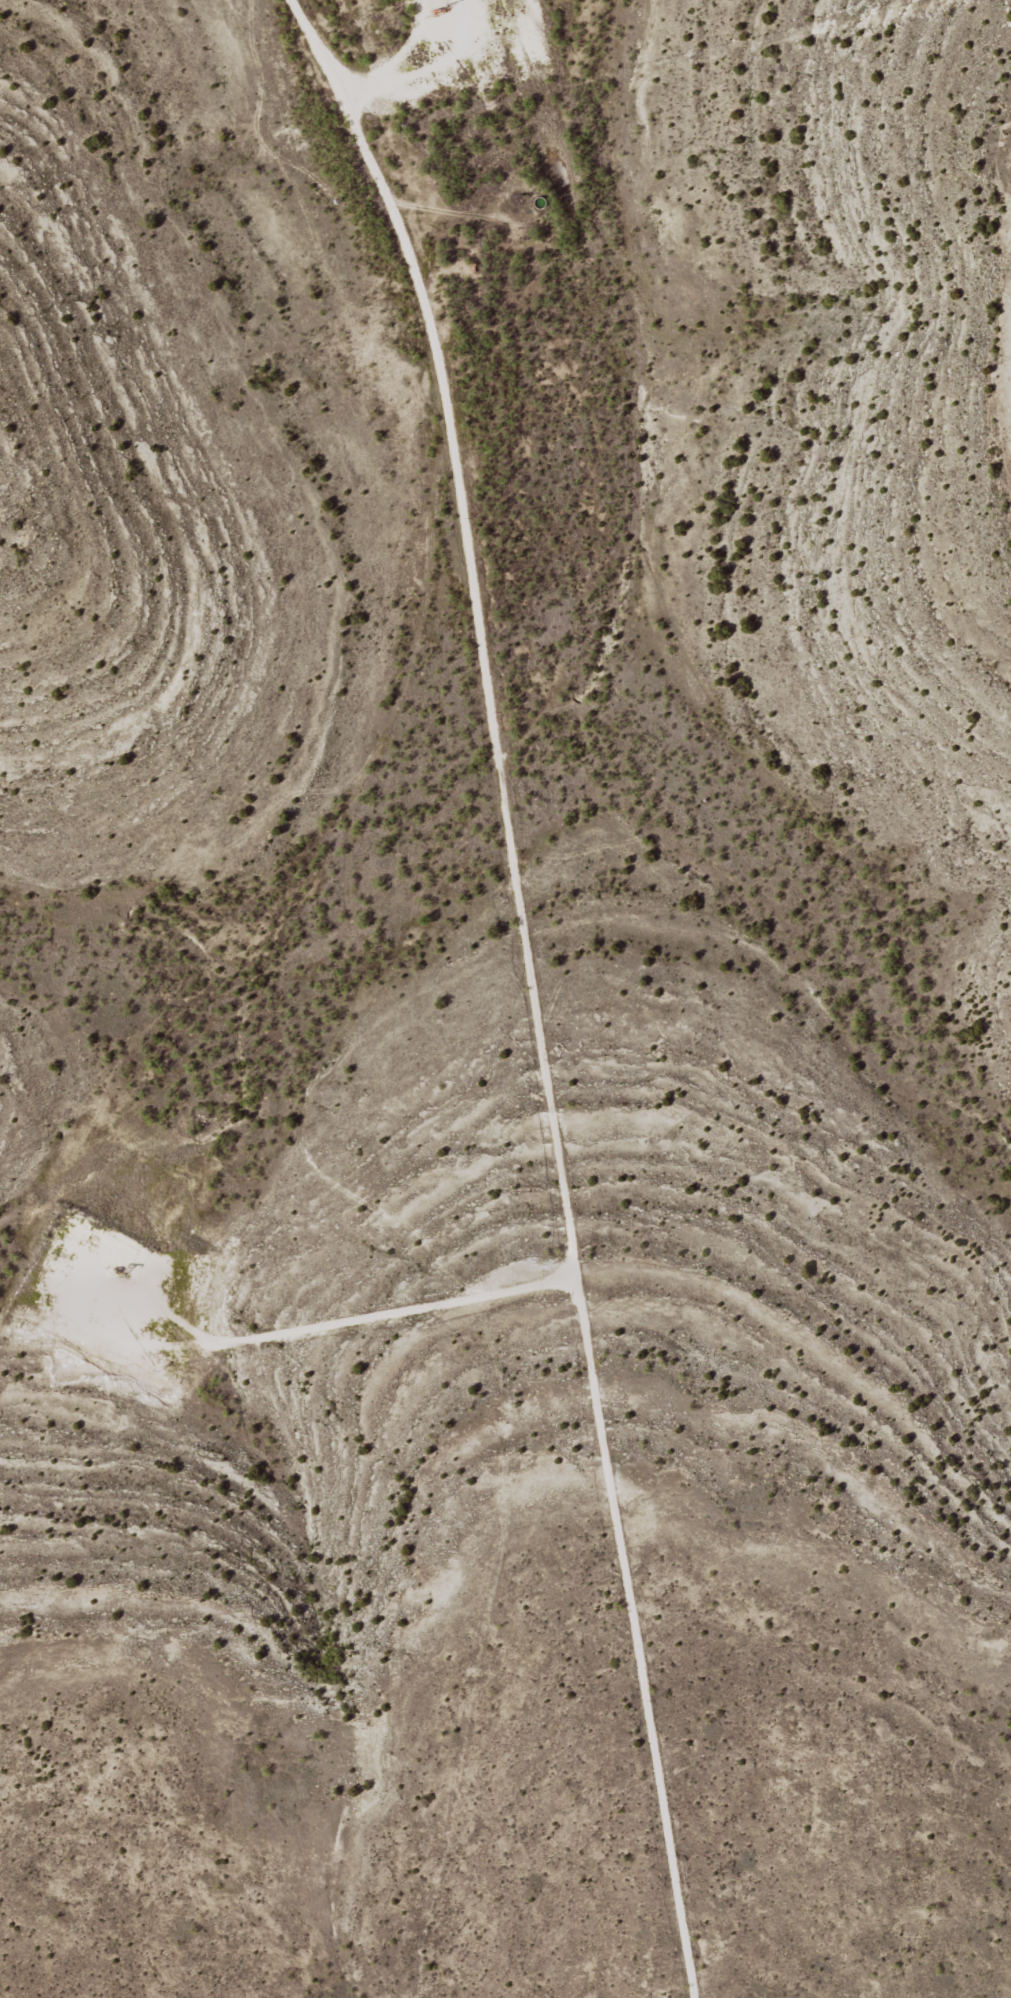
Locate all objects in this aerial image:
road: (369, 104)

